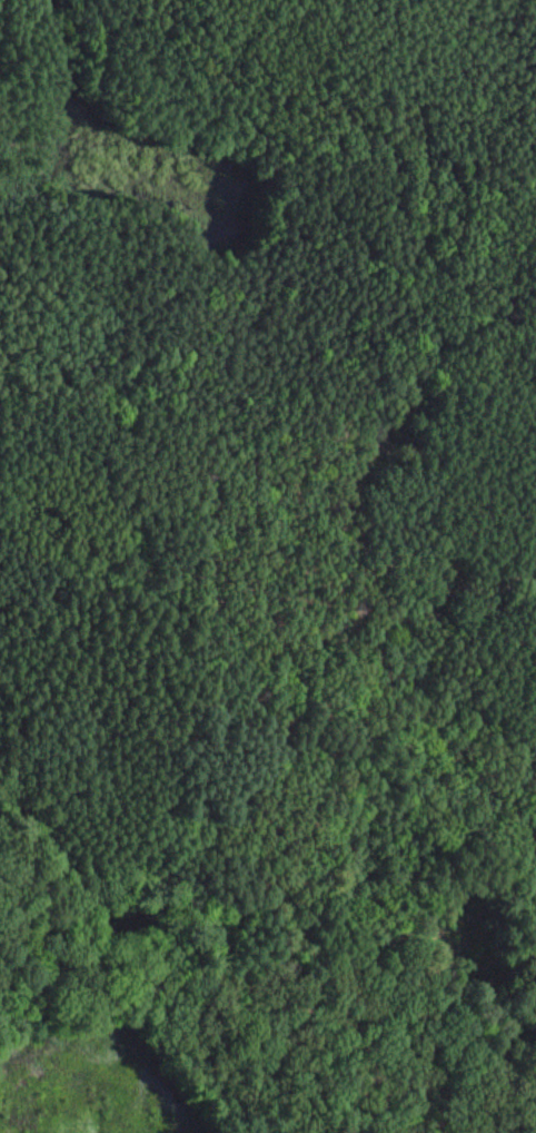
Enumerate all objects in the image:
road: (415, 391)
road: (257, 633)

